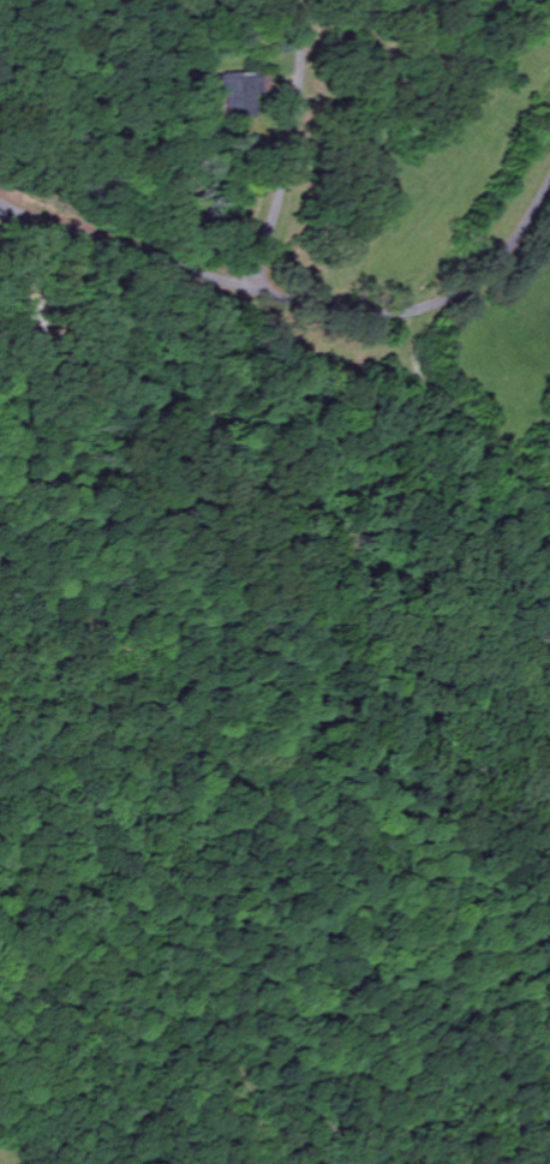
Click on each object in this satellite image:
building: (240, 95)
road: (251, 275)
road: (426, 304)

